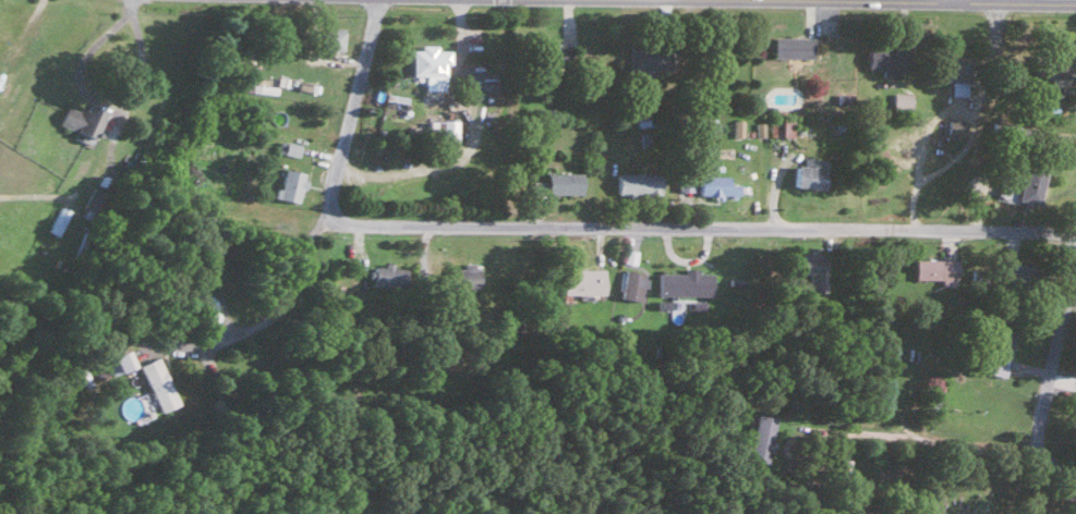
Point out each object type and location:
road: (948, 1)
road: (130, 2)
road: (869, 2)
building: (330, 39)
building: (791, 47)
building: (552, 56)
building: (885, 60)
building: (428, 65)
building: (1051, 65)
building: (472, 70)
building: (952, 72)
building: (899, 99)
road: (100, 105)
road: (349, 112)
building: (78, 122)
building: (705, 124)
building: (779, 125)
building: (954, 125)
building: (736, 126)
building: (445, 131)
building: (287, 148)
building: (808, 172)
building: (561, 181)
building: (637, 182)
building: (1029, 183)
building: (714, 184)
building: (289, 185)
building: (92, 201)
building: (57, 219)
road: (699, 228)
building: (811, 268)
building: (934, 268)
building: (1018, 269)
building: (466, 273)
building: (386, 274)
building: (581, 281)
building: (630, 283)
road: (265, 320)
building: (1000, 339)
building: (116, 360)
road: (1047, 369)
building: (96, 374)
building: (156, 382)
road: (879, 433)
building: (760, 436)
road: (1069, 489)

